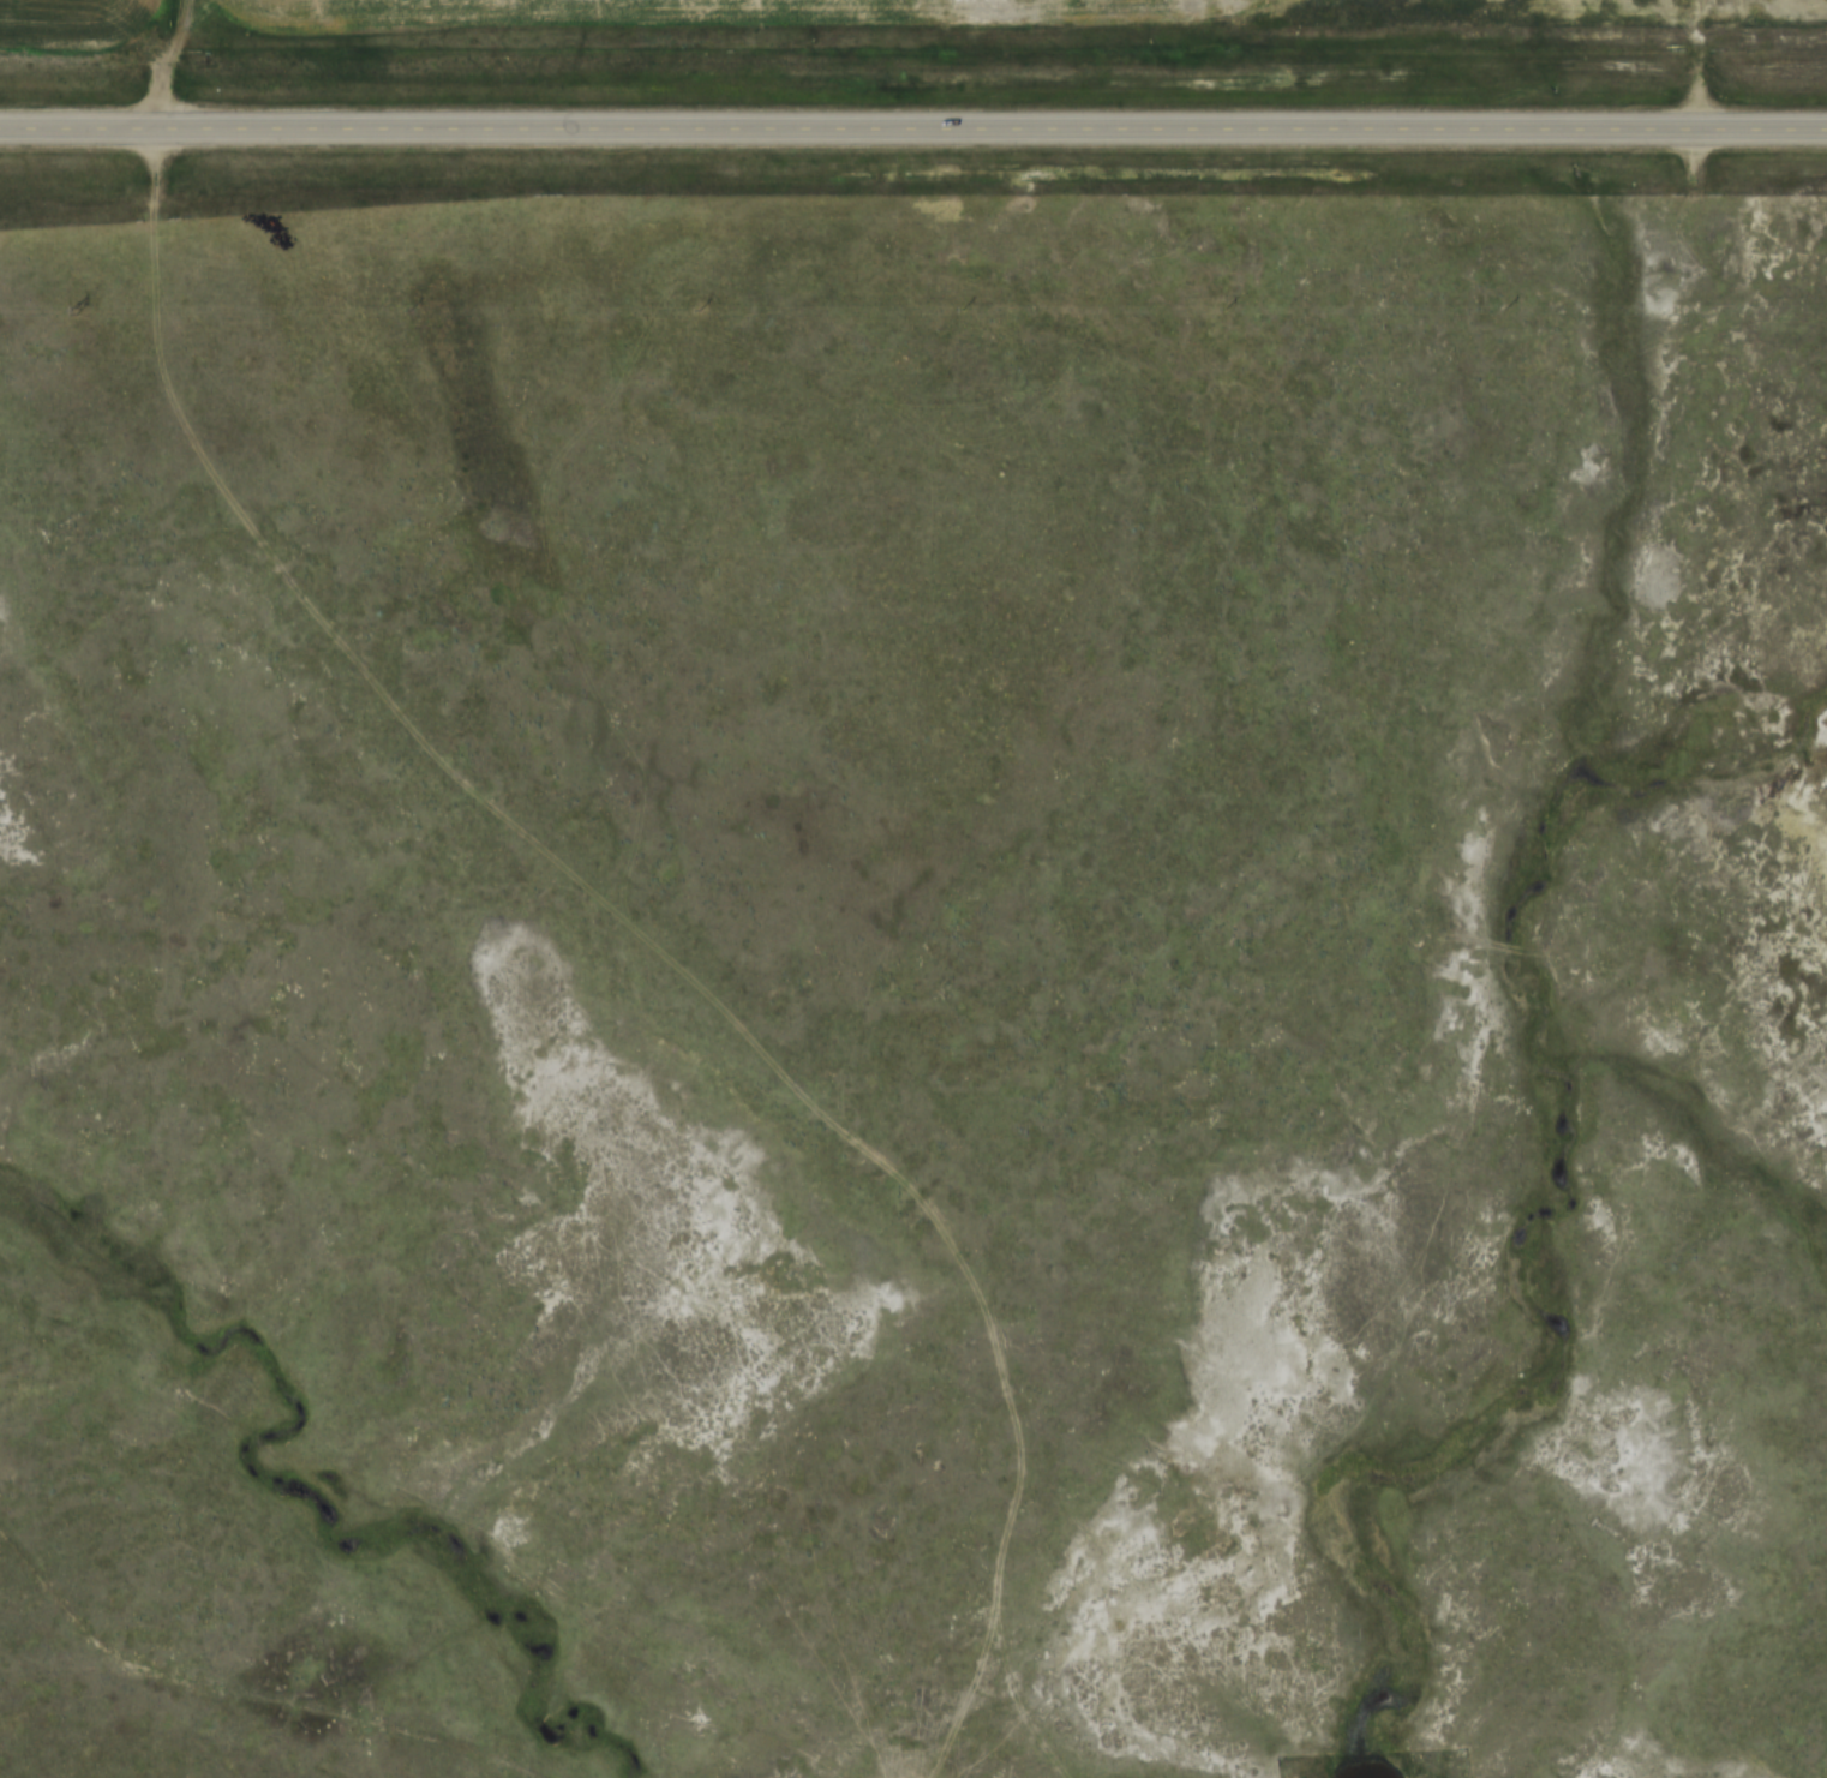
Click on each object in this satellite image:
road: (913, 137)

